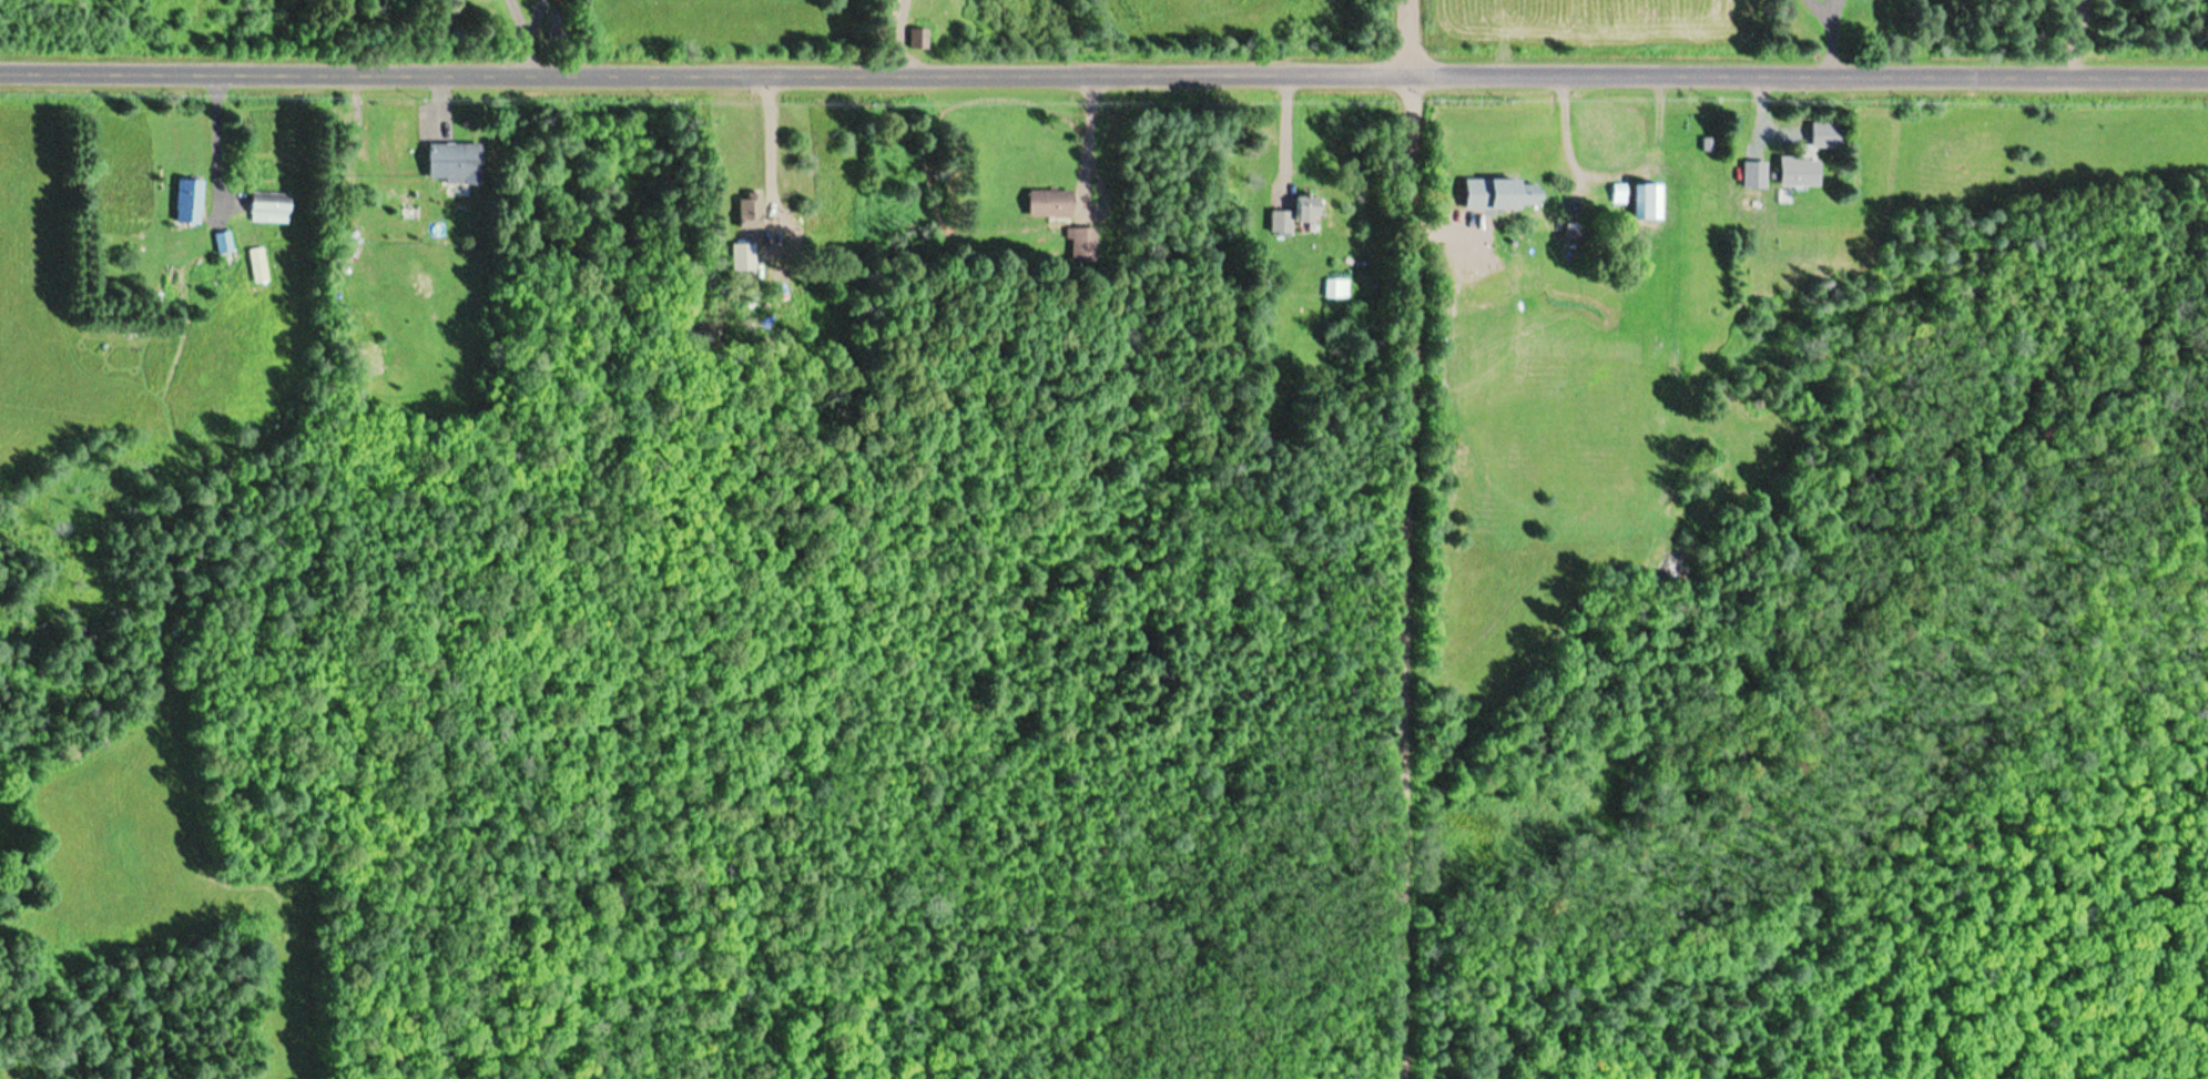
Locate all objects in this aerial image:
building: (912, 39)
road: (1103, 73)
building: (442, 163)
building: (1795, 172)
building: (1754, 175)
building: (177, 202)
building: (1647, 202)
building: (1044, 204)
building: (740, 210)
building: (340, 241)
building: (742, 257)
building: (248, 265)
building: (1333, 287)
road: (1418, 539)

